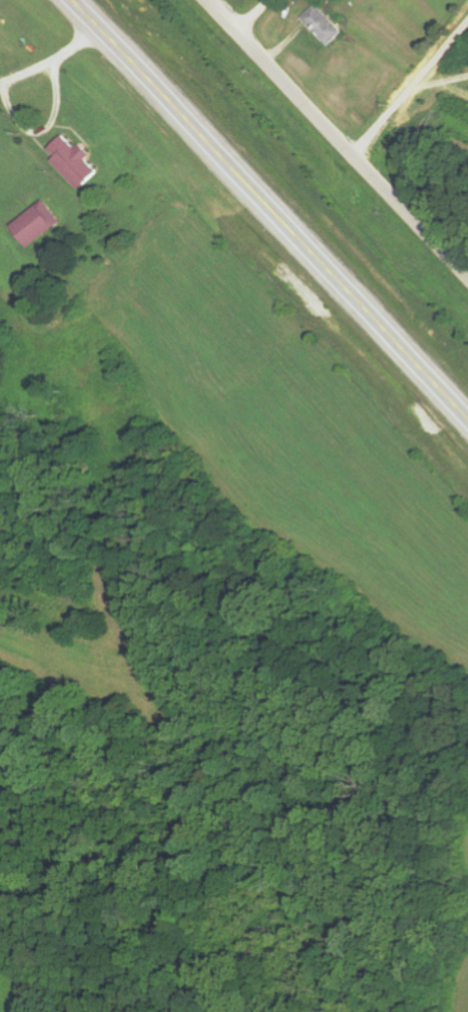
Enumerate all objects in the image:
road: (259, 20)
building: (322, 24)
road: (334, 141)
building: (70, 161)
road: (267, 213)
building: (34, 223)

